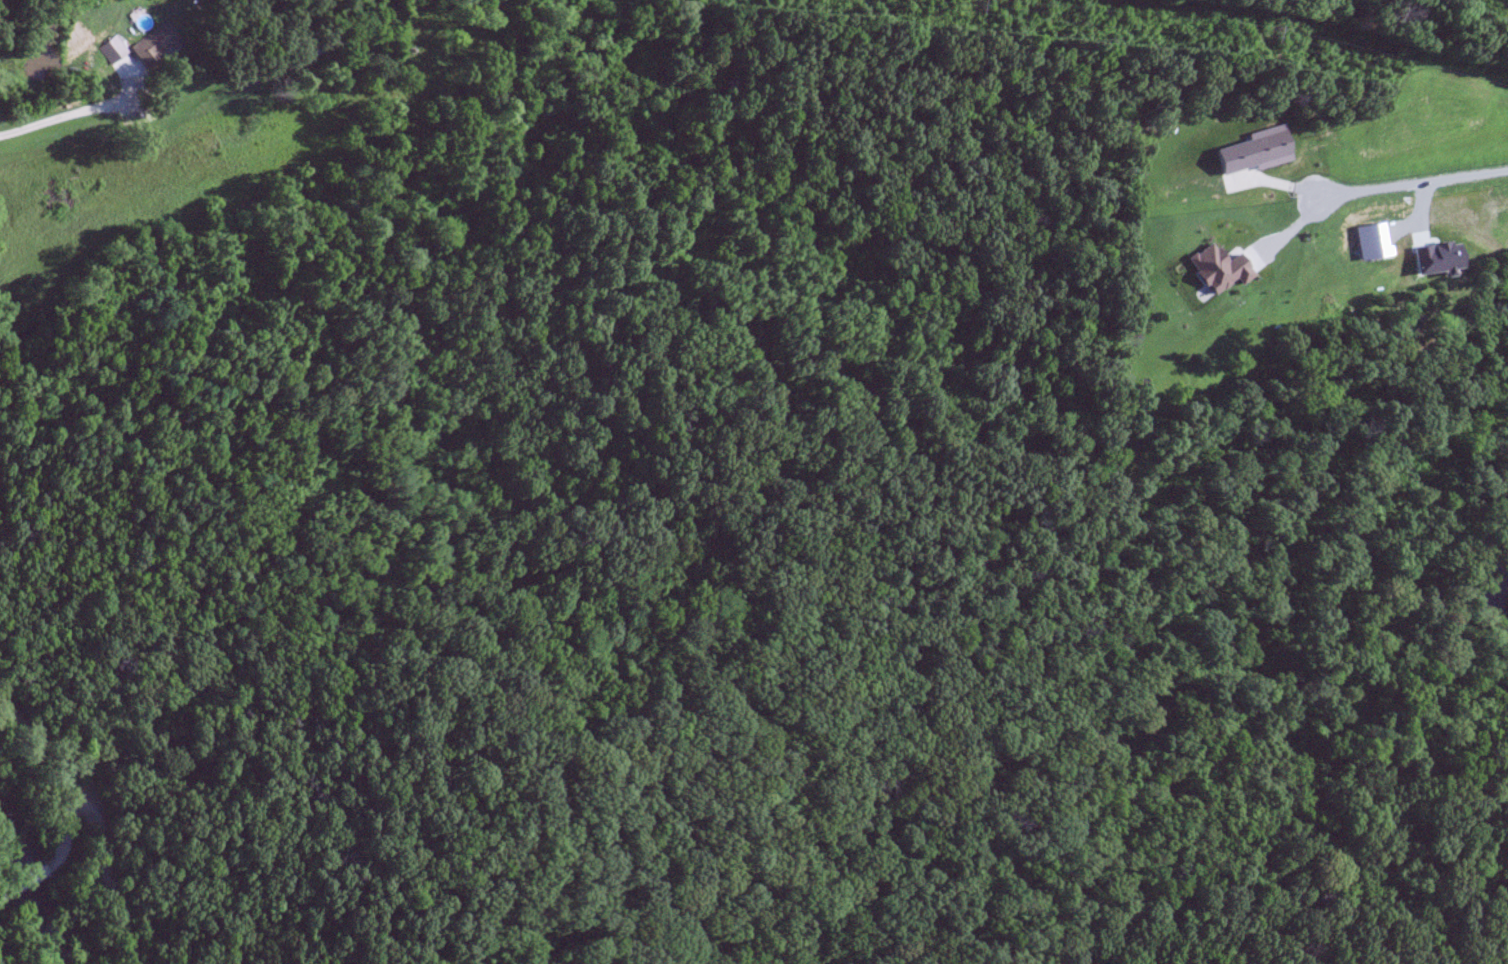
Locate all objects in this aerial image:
power tower: (968, 3)
power tower: (1270, 34)
building: (158, 45)
building: (318, 49)
road: (71, 115)
road: (1409, 181)
road: (85, 815)
road: (48, 852)

